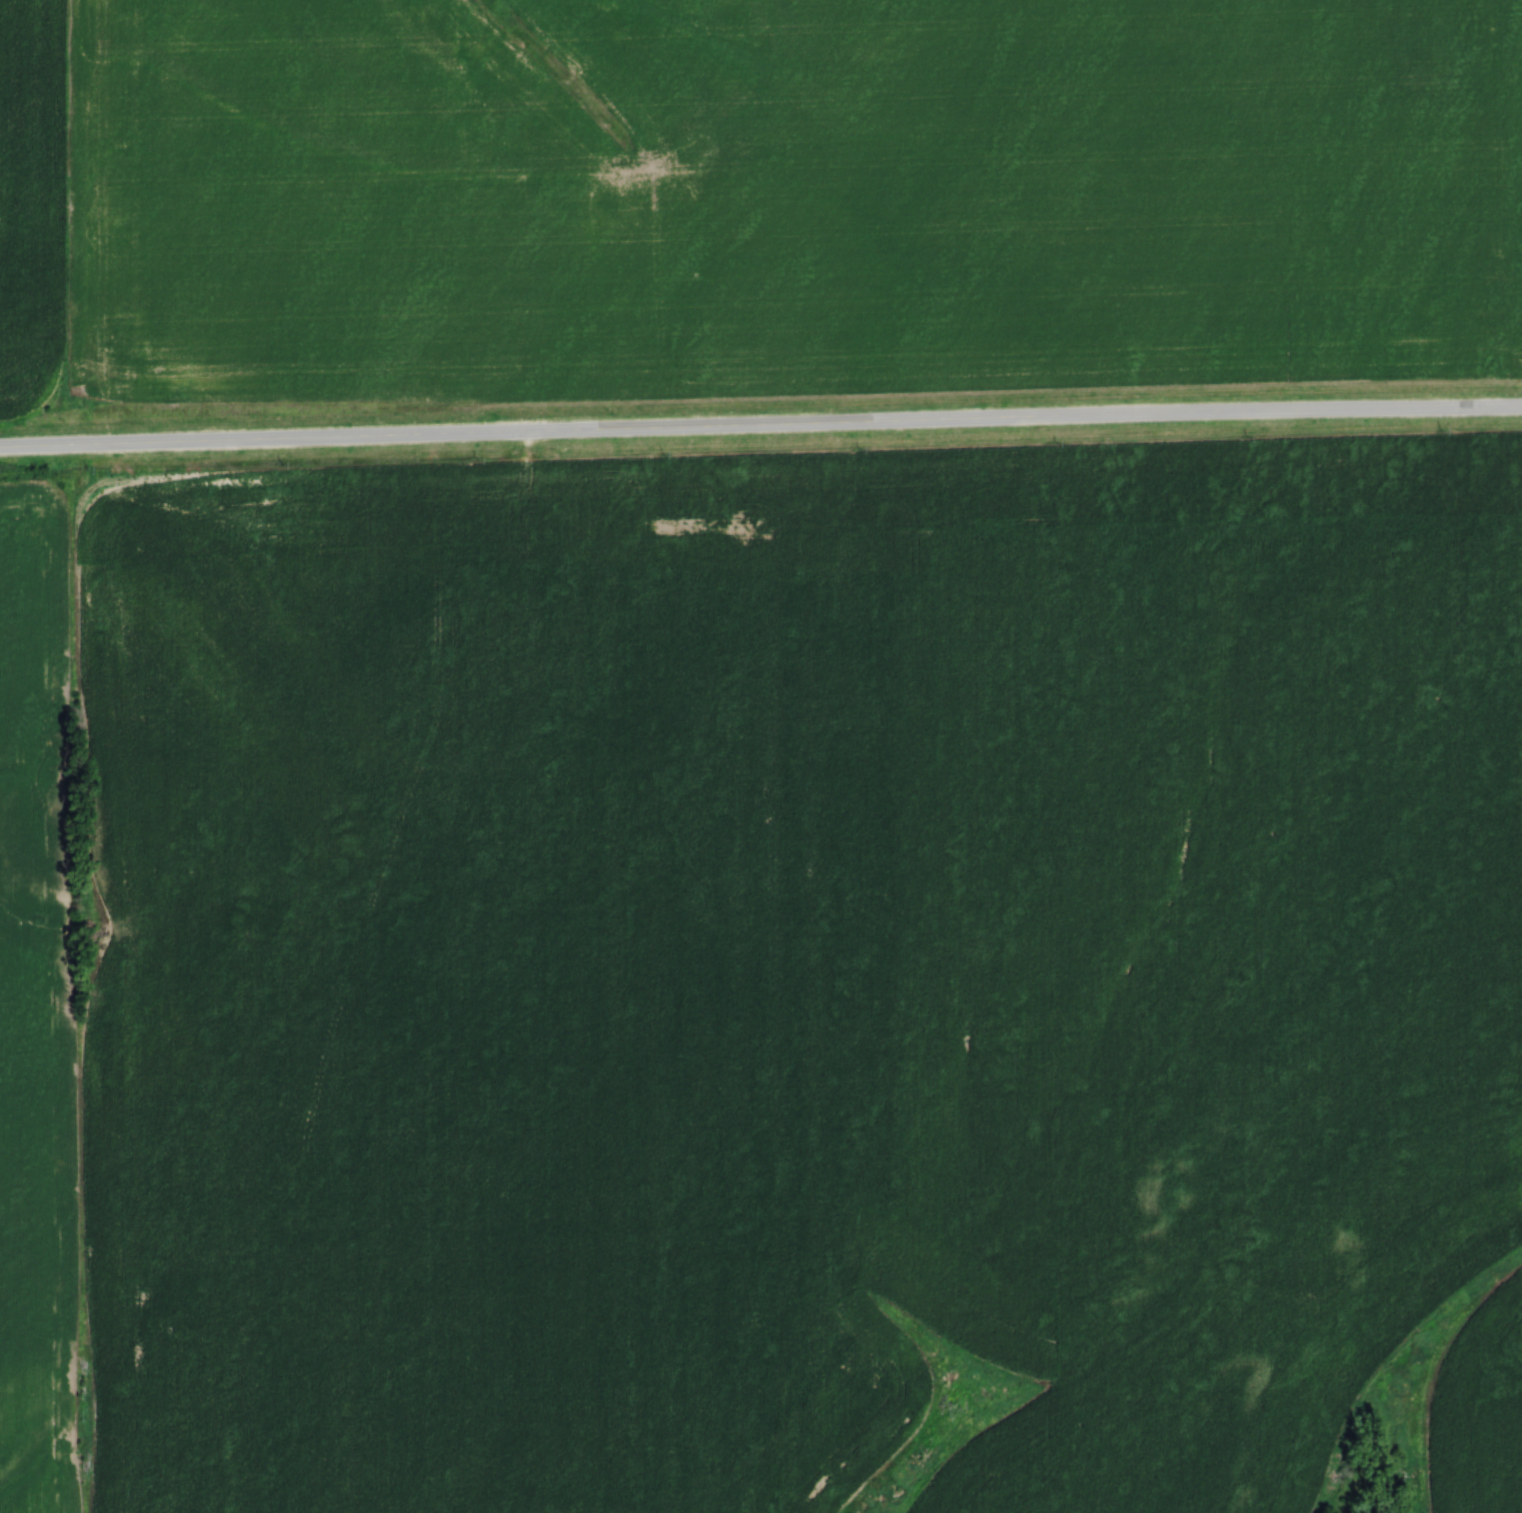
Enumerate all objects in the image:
crop: (28, 201)
road: (761, 427)

